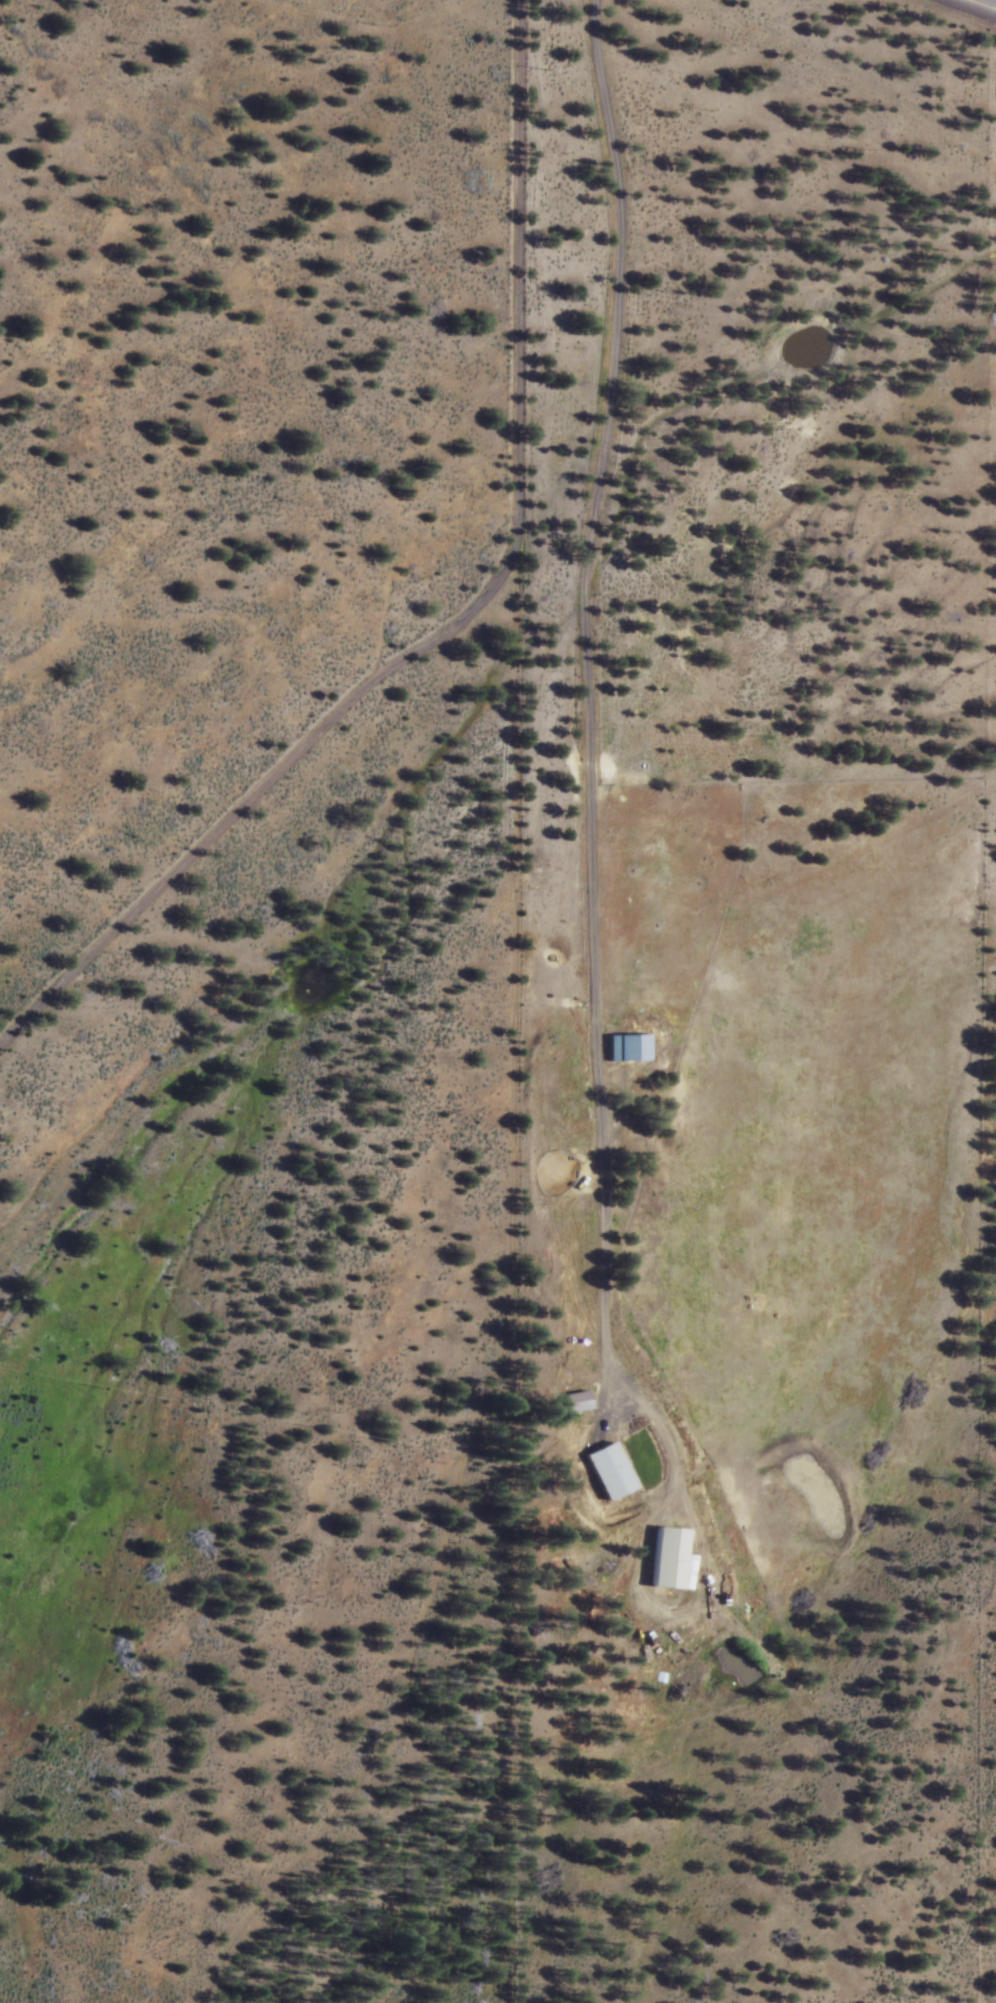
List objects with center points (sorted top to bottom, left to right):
road: (985, 3)
road: (463, 618)
road: (588, 754)
building: (633, 1048)
building: (631, 1450)
building: (672, 1557)

